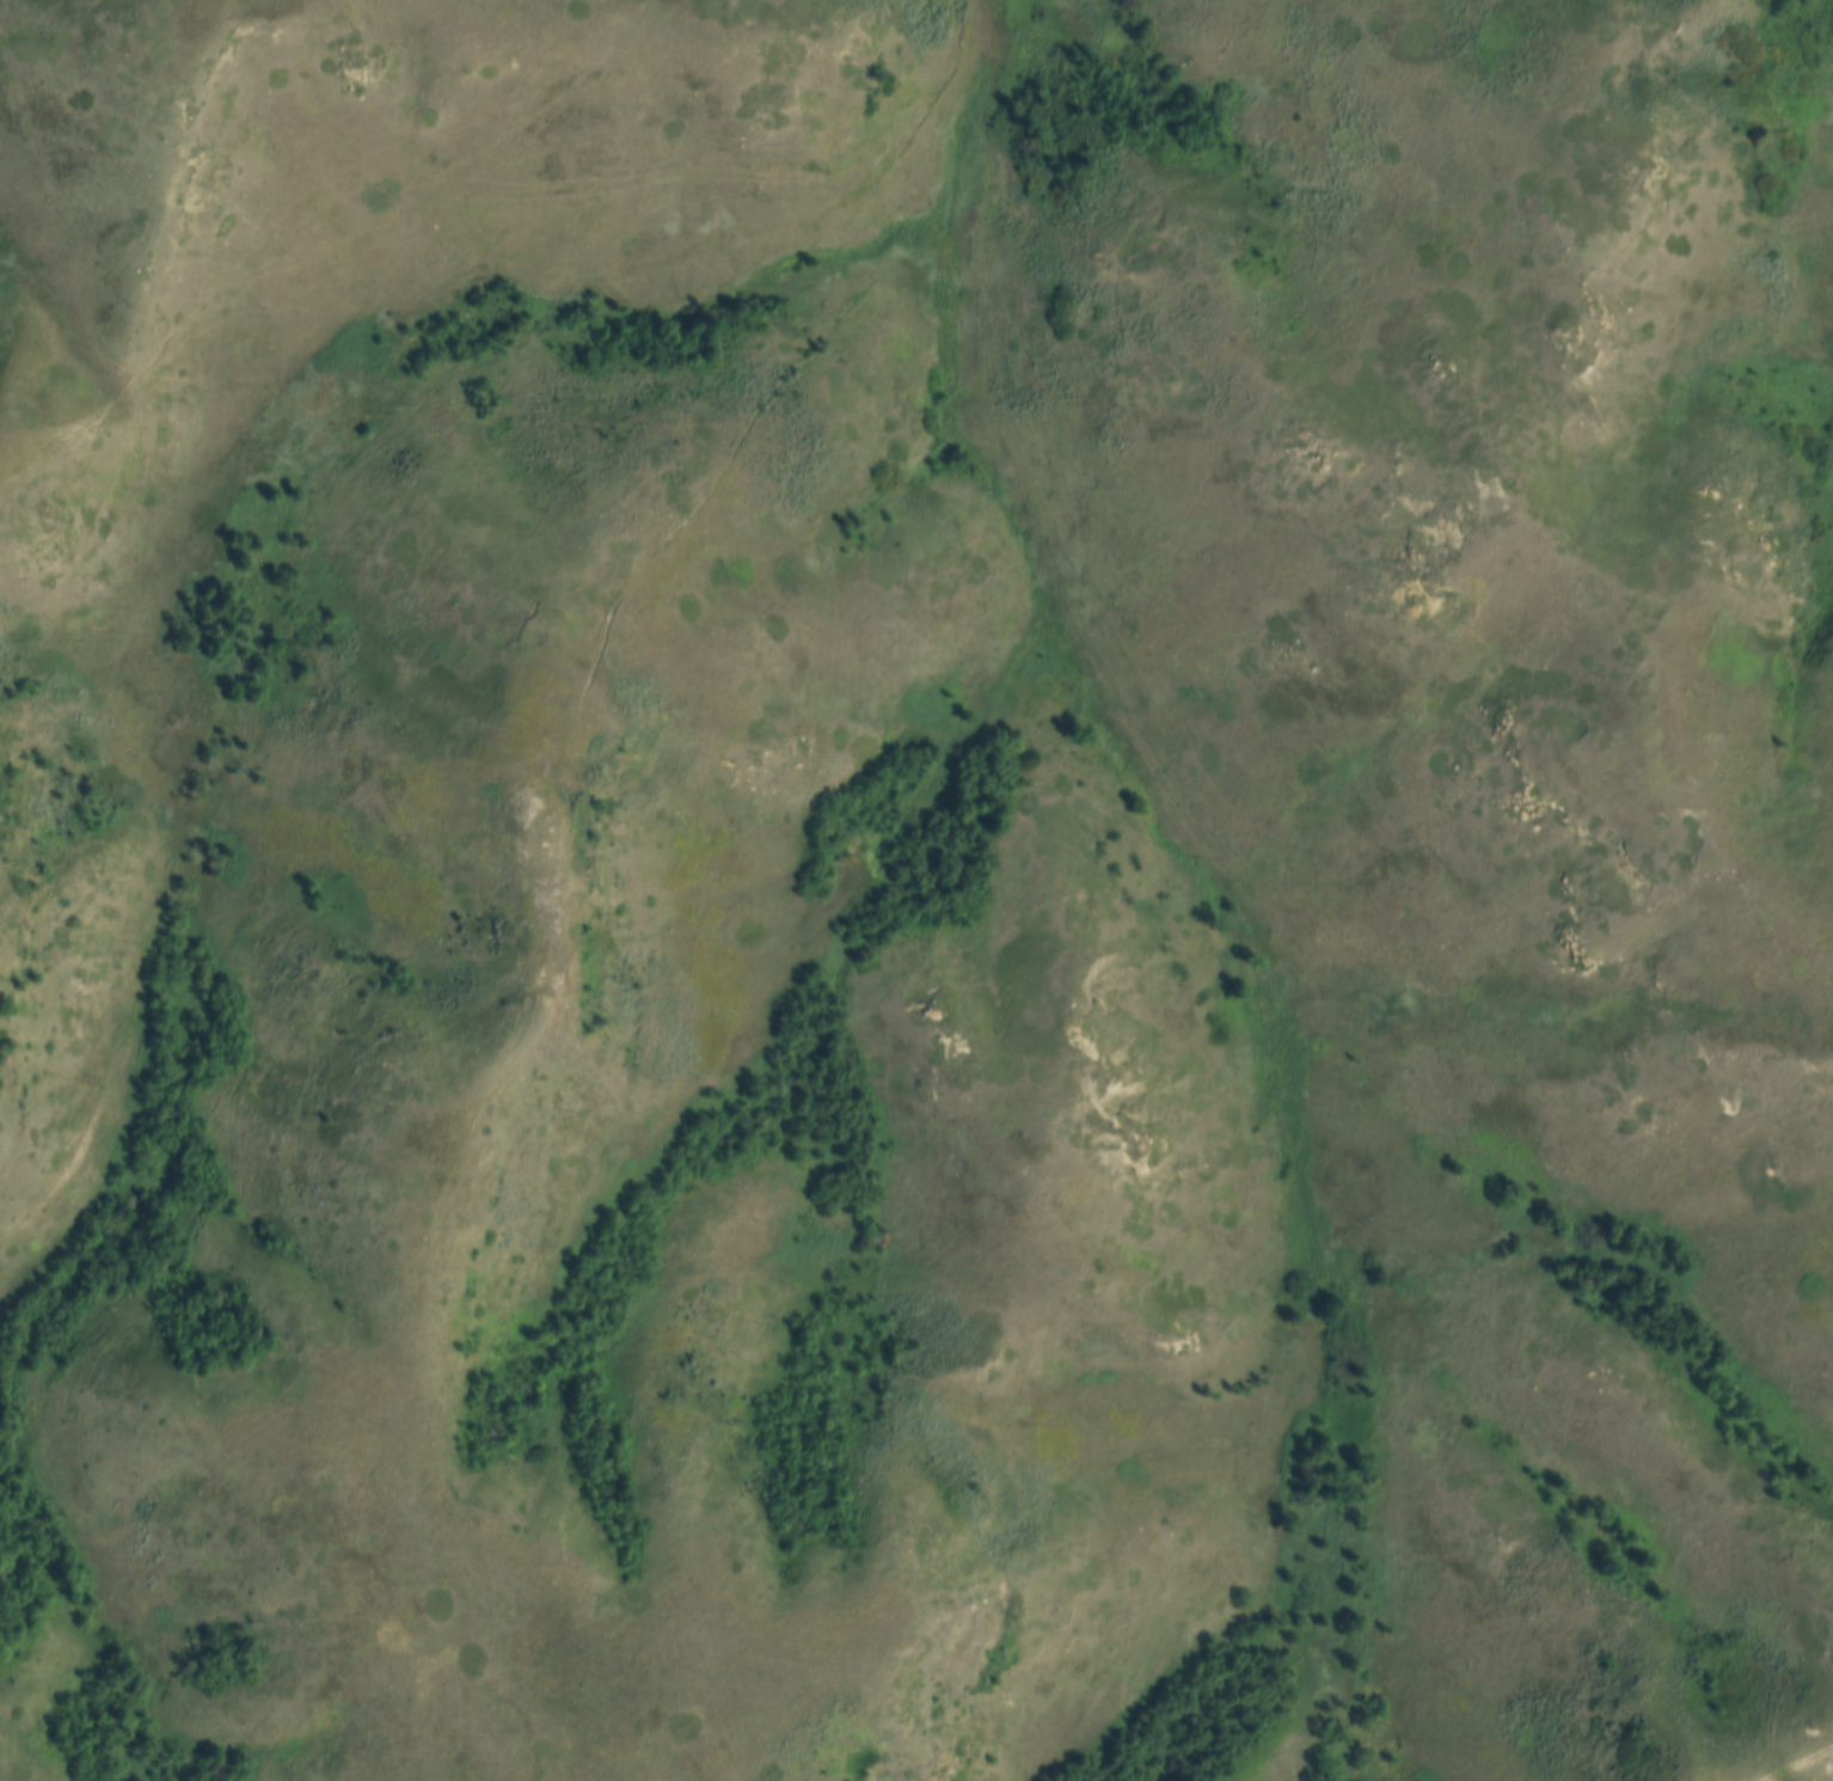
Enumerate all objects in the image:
road: (1773, 1751)

